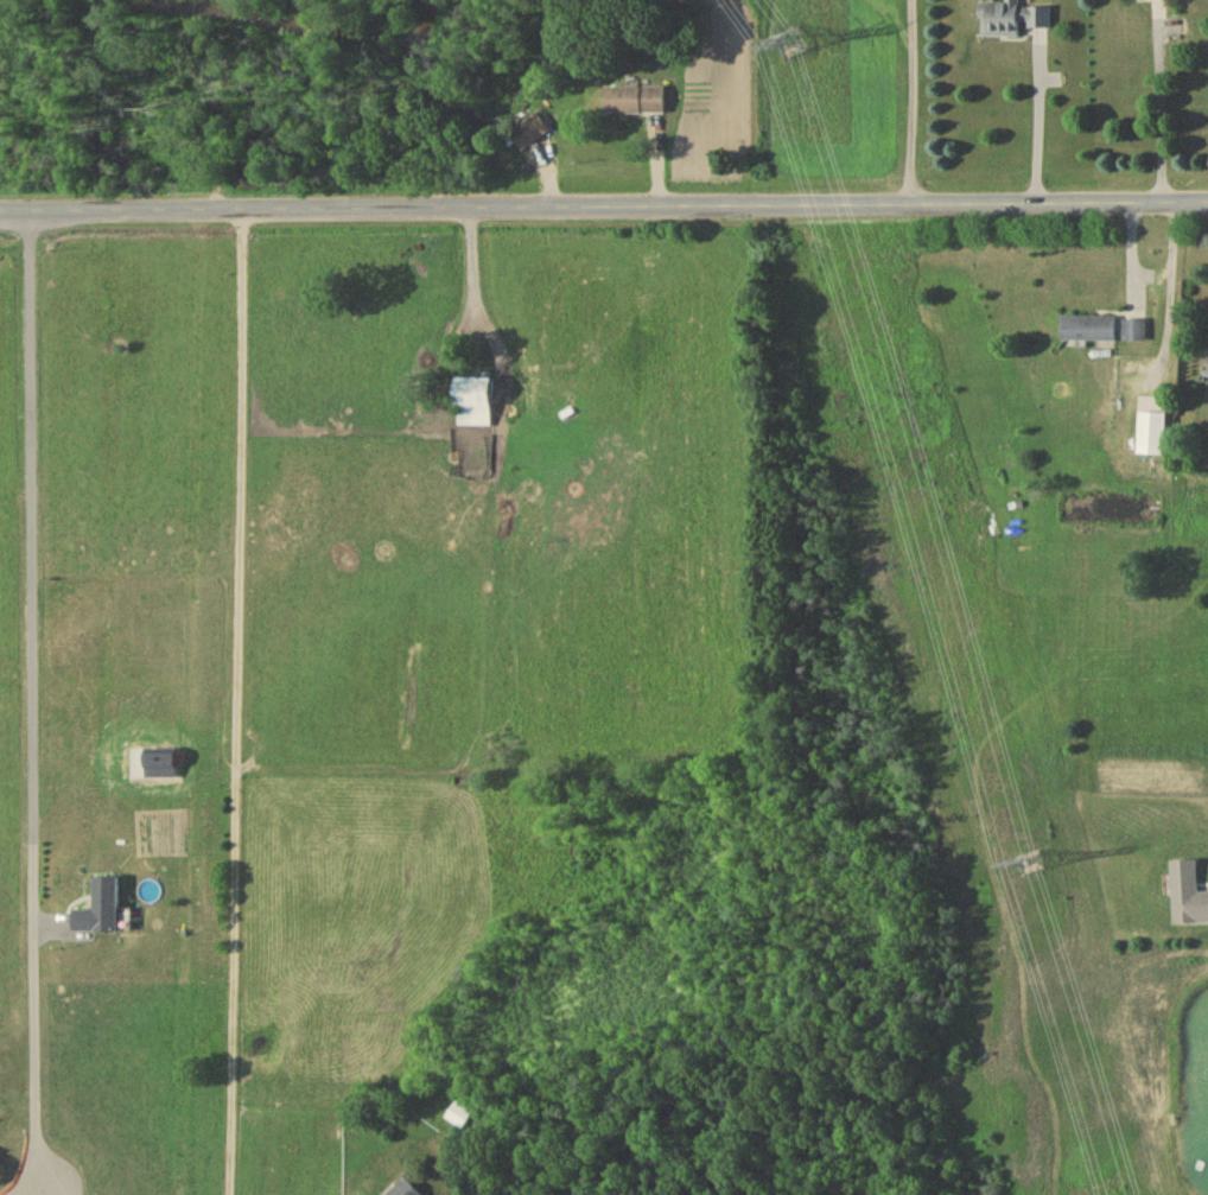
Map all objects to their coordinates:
building: (1143, 0)
building: (1011, 21)
power tower: (787, 45)
road: (911, 97)
building: (635, 102)
road: (1162, 108)
road: (1039, 119)
building: (529, 134)
road: (604, 204)
road: (473, 286)
building: (1089, 330)
building: (1134, 332)
building: (1206, 376)
building: (473, 405)
building: (1150, 437)
road: (31, 698)
road: (237, 703)
power tower: (1031, 866)
building: (1187, 898)
building: (101, 911)
building: (460, 1117)
road: (52, 1190)
building: (407, 1190)

